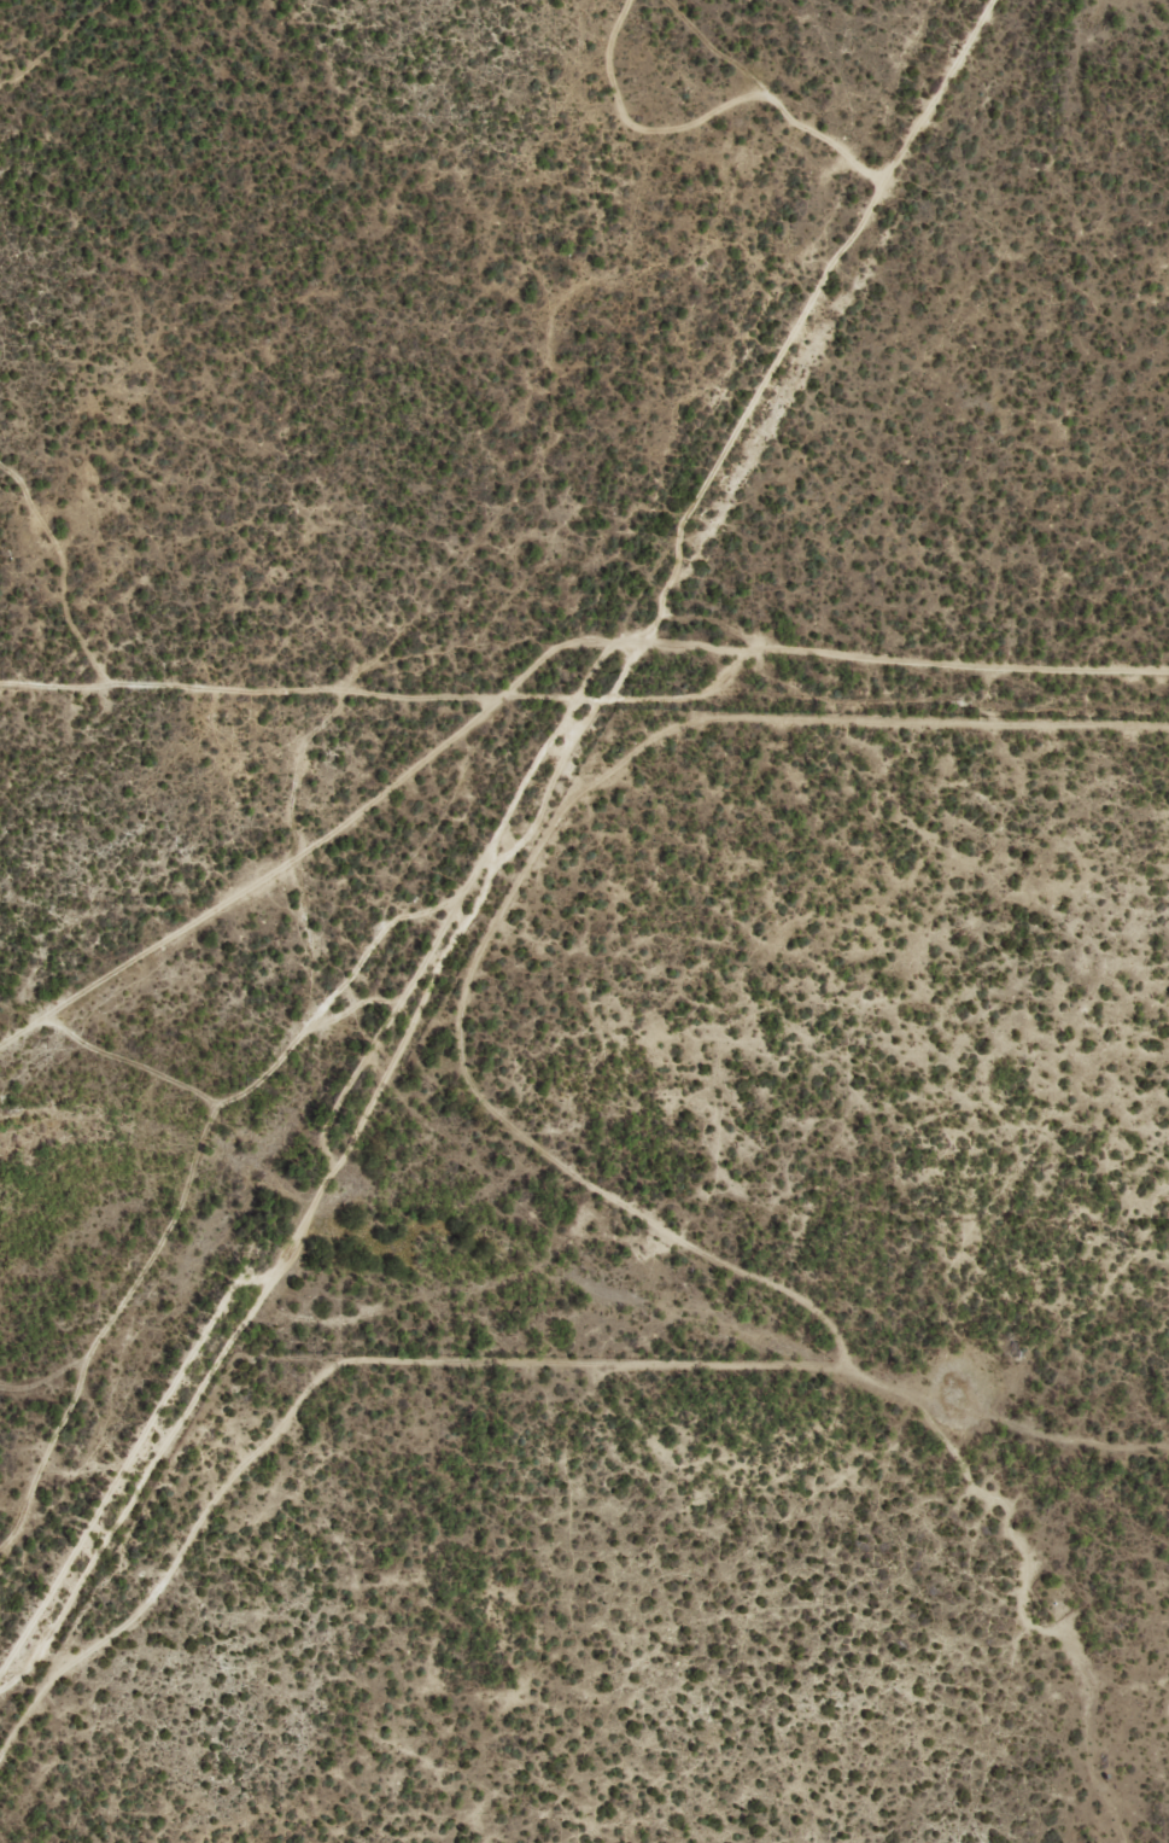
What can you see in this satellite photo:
road: (51, 42)
road: (764, 95)
road: (796, 315)
road: (49, 687)
road: (527, 698)
railway: (493, 833)
road: (515, 877)
road: (320, 1371)

